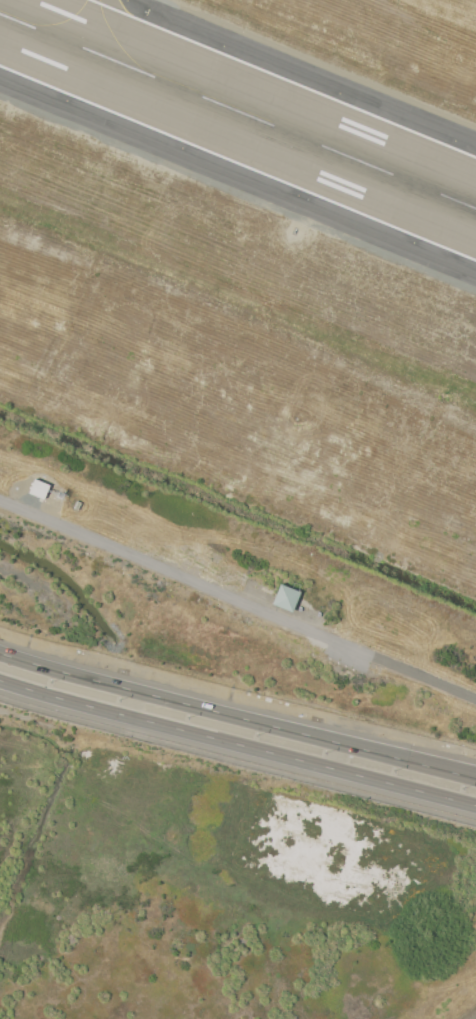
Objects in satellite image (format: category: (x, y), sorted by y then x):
airport taxiway: (60, 22)
airport taxiway: (117, 42)
airport runway: (238, 111)
airport: (238, 509)
building: (284, 597)
road: (238, 600)
road: (237, 719)
road: (237, 746)
road: (237, 761)

